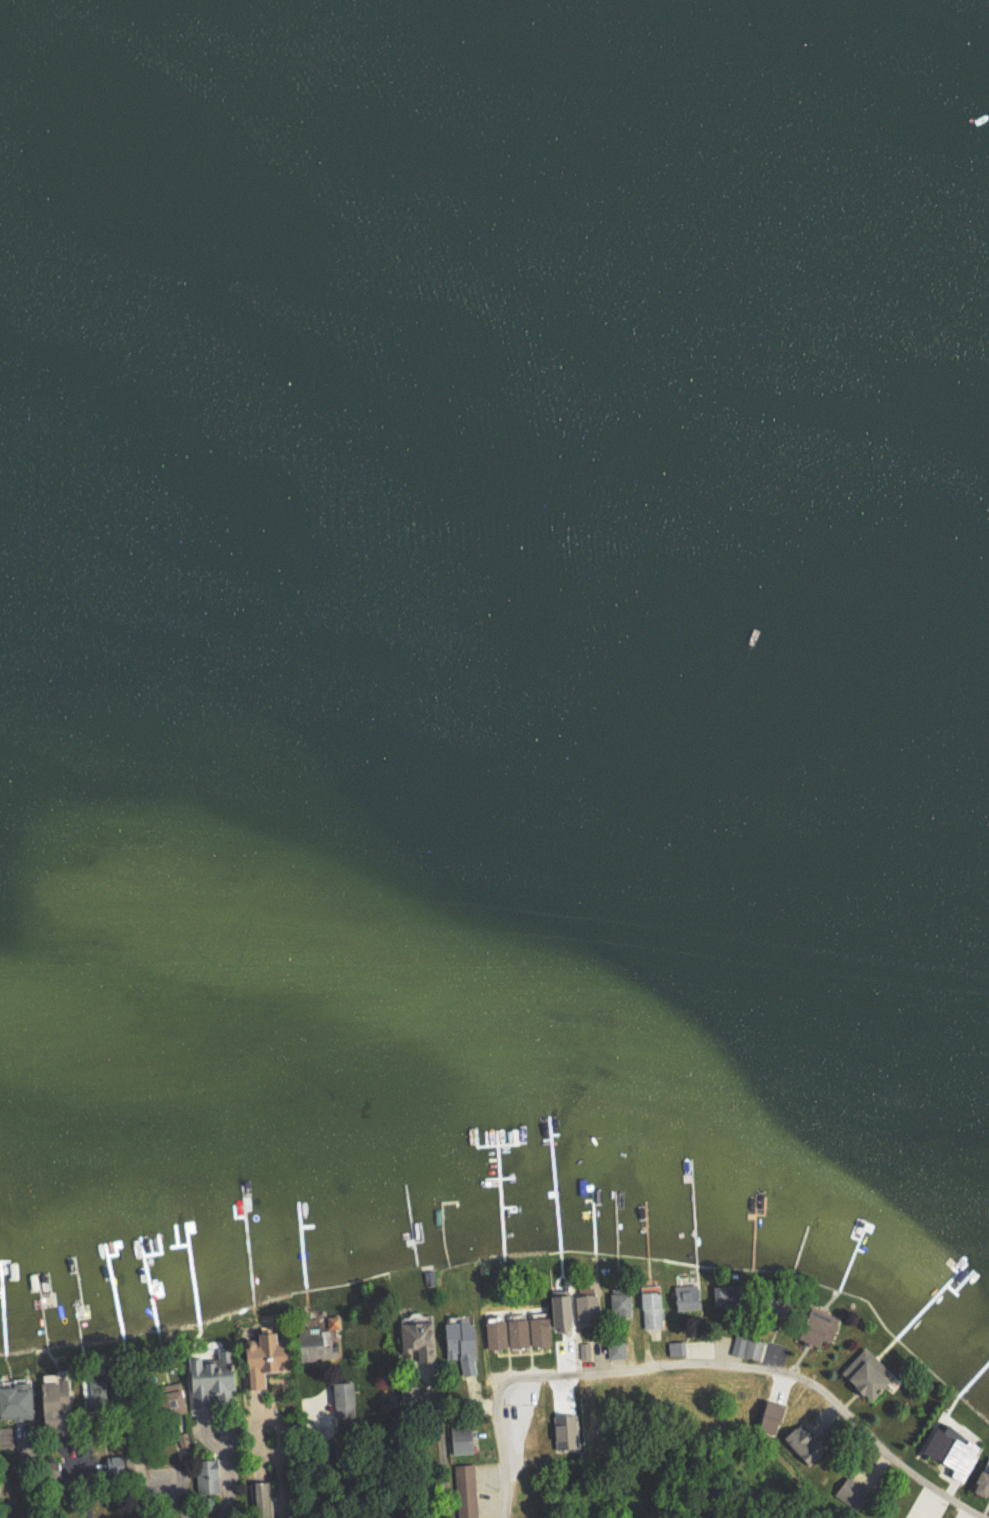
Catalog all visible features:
building: (717, 1293)
building: (684, 1295)
building: (583, 1305)
building: (649, 1306)
building: (555, 1308)
building: (814, 1324)
building: (515, 1332)
building: (416, 1337)
building: (456, 1339)
building: (746, 1346)
building: (584, 1349)
building: (258, 1358)
building: (864, 1372)
building: (203, 1376)
road: (509, 1382)
building: (91, 1385)
building: (49, 1396)
building: (13, 1399)
building: (169, 1399)
road: (828, 1402)
building: (341, 1403)
building: (764, 1414)
building: (562, 1430)
building: (459, 1438)
building: (793, 1439)
building: (948, 1449)
building: (206, 1475)
building: (981, 1479)
building: (464, 1481)

